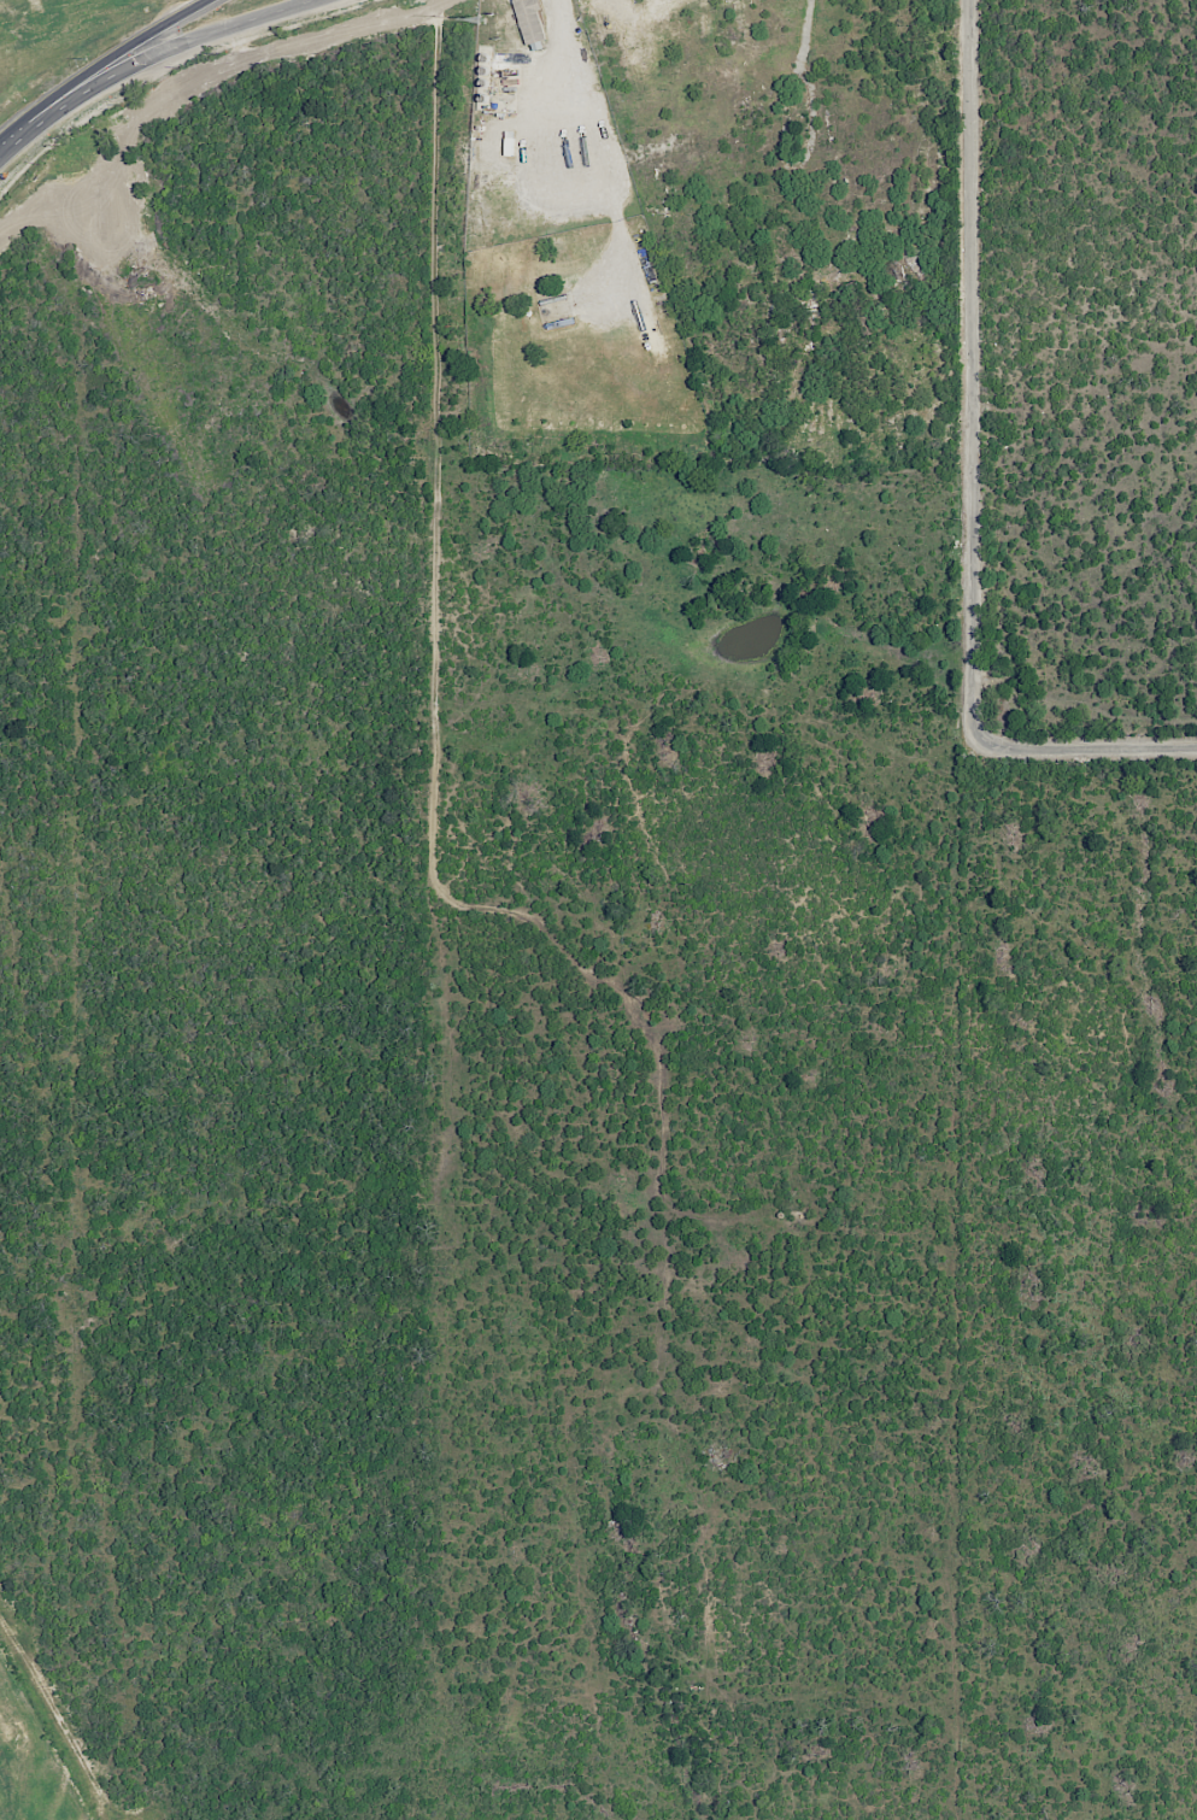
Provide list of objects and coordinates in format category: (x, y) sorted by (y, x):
road: (563, 11)
building: (529, 19)
road: (130, 55)
road: (149, 58)
road: (448, 286)
road: (981, 440)
road: (1167, 915)
road: (533, 921)
road: (1178, 968)
road: (999, 1080)
road: (1157, 1270)
building: (843, 1526)
road: (1177, 1572)
road: (1107, 1672)
road: (1156, 1696)

